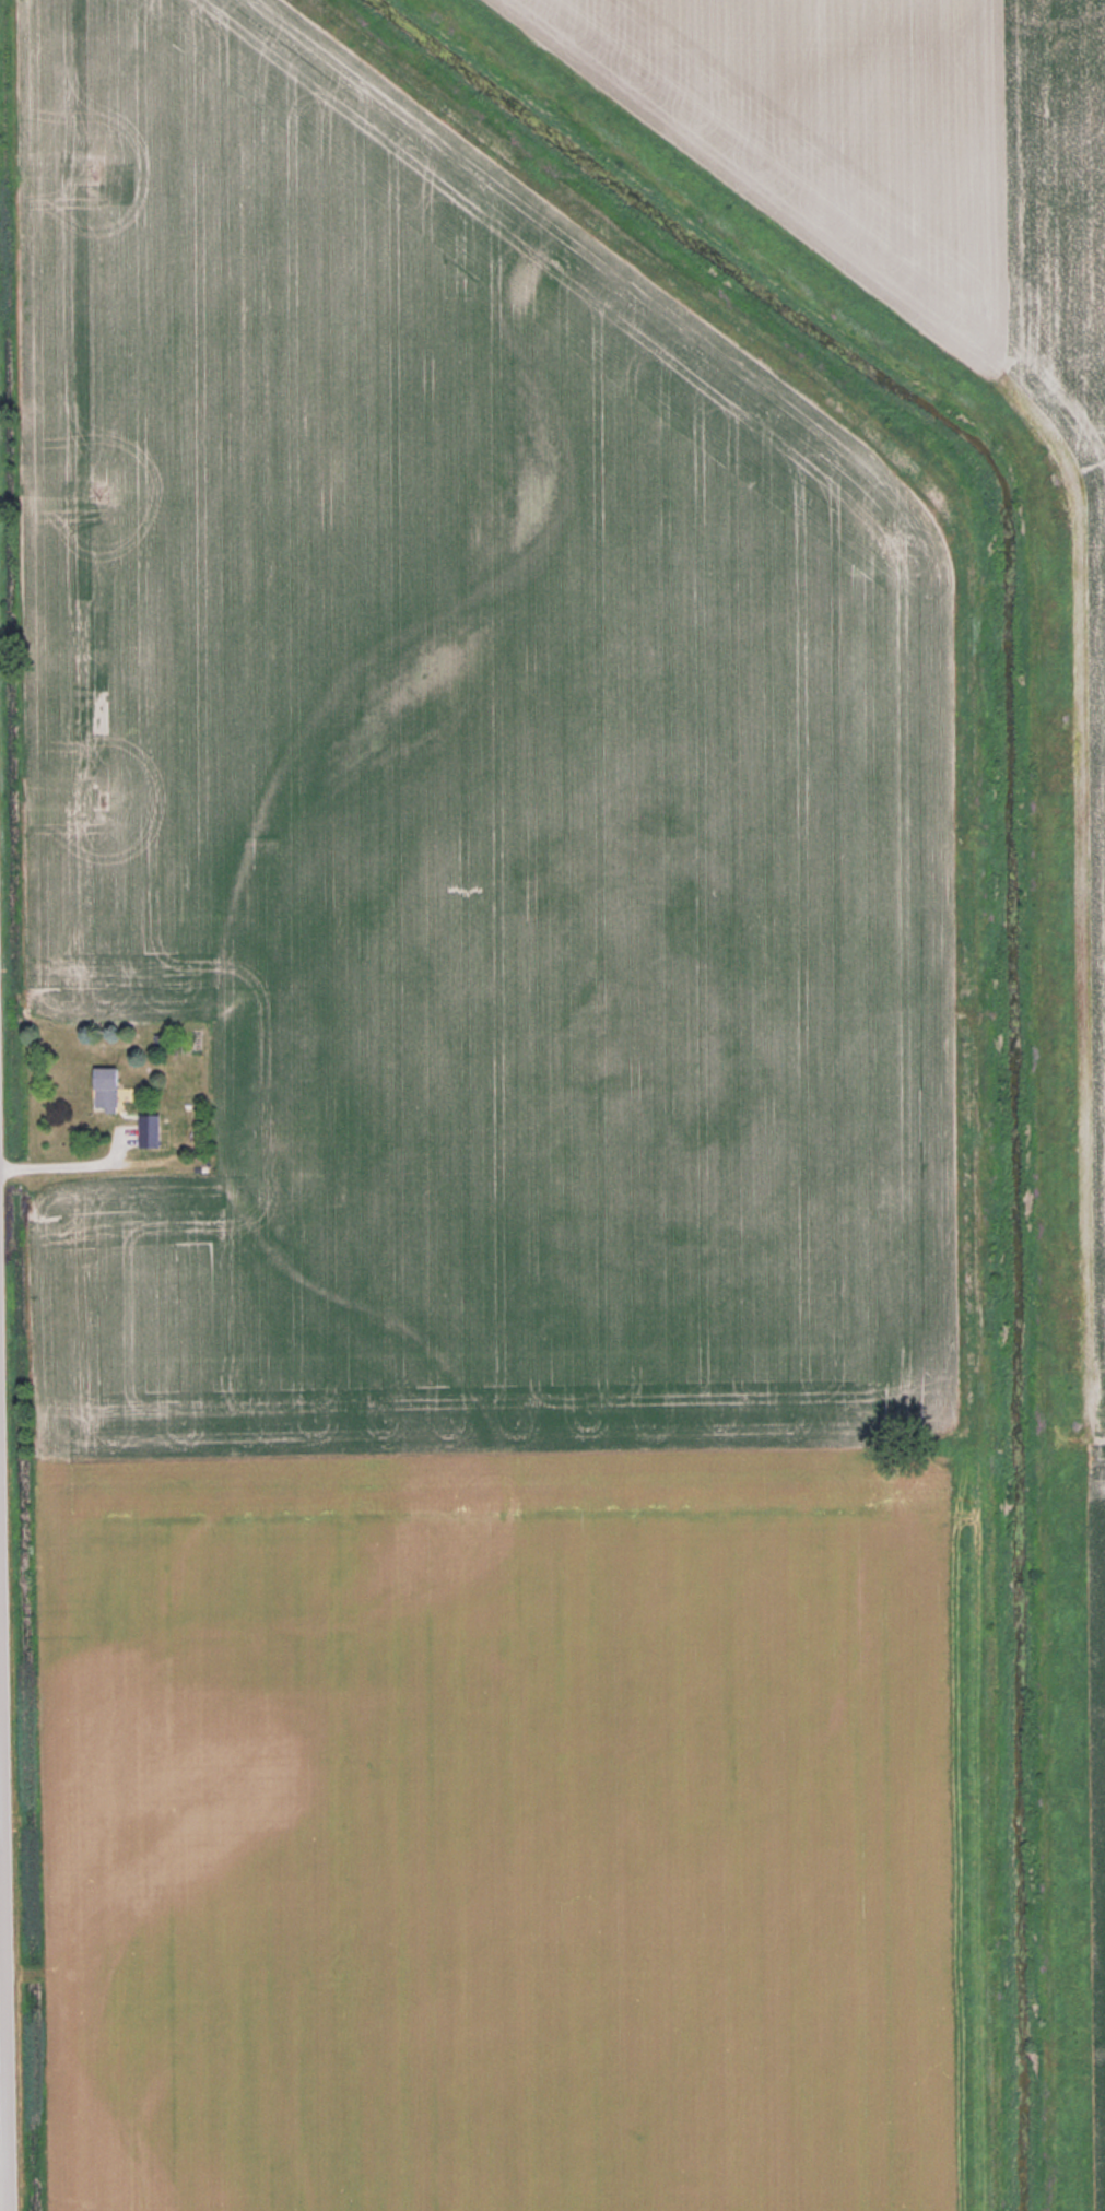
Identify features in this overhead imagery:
building: (106, 1087)
building: (150, 1129)
road: (9, 1553)
road: (9, 2176)

